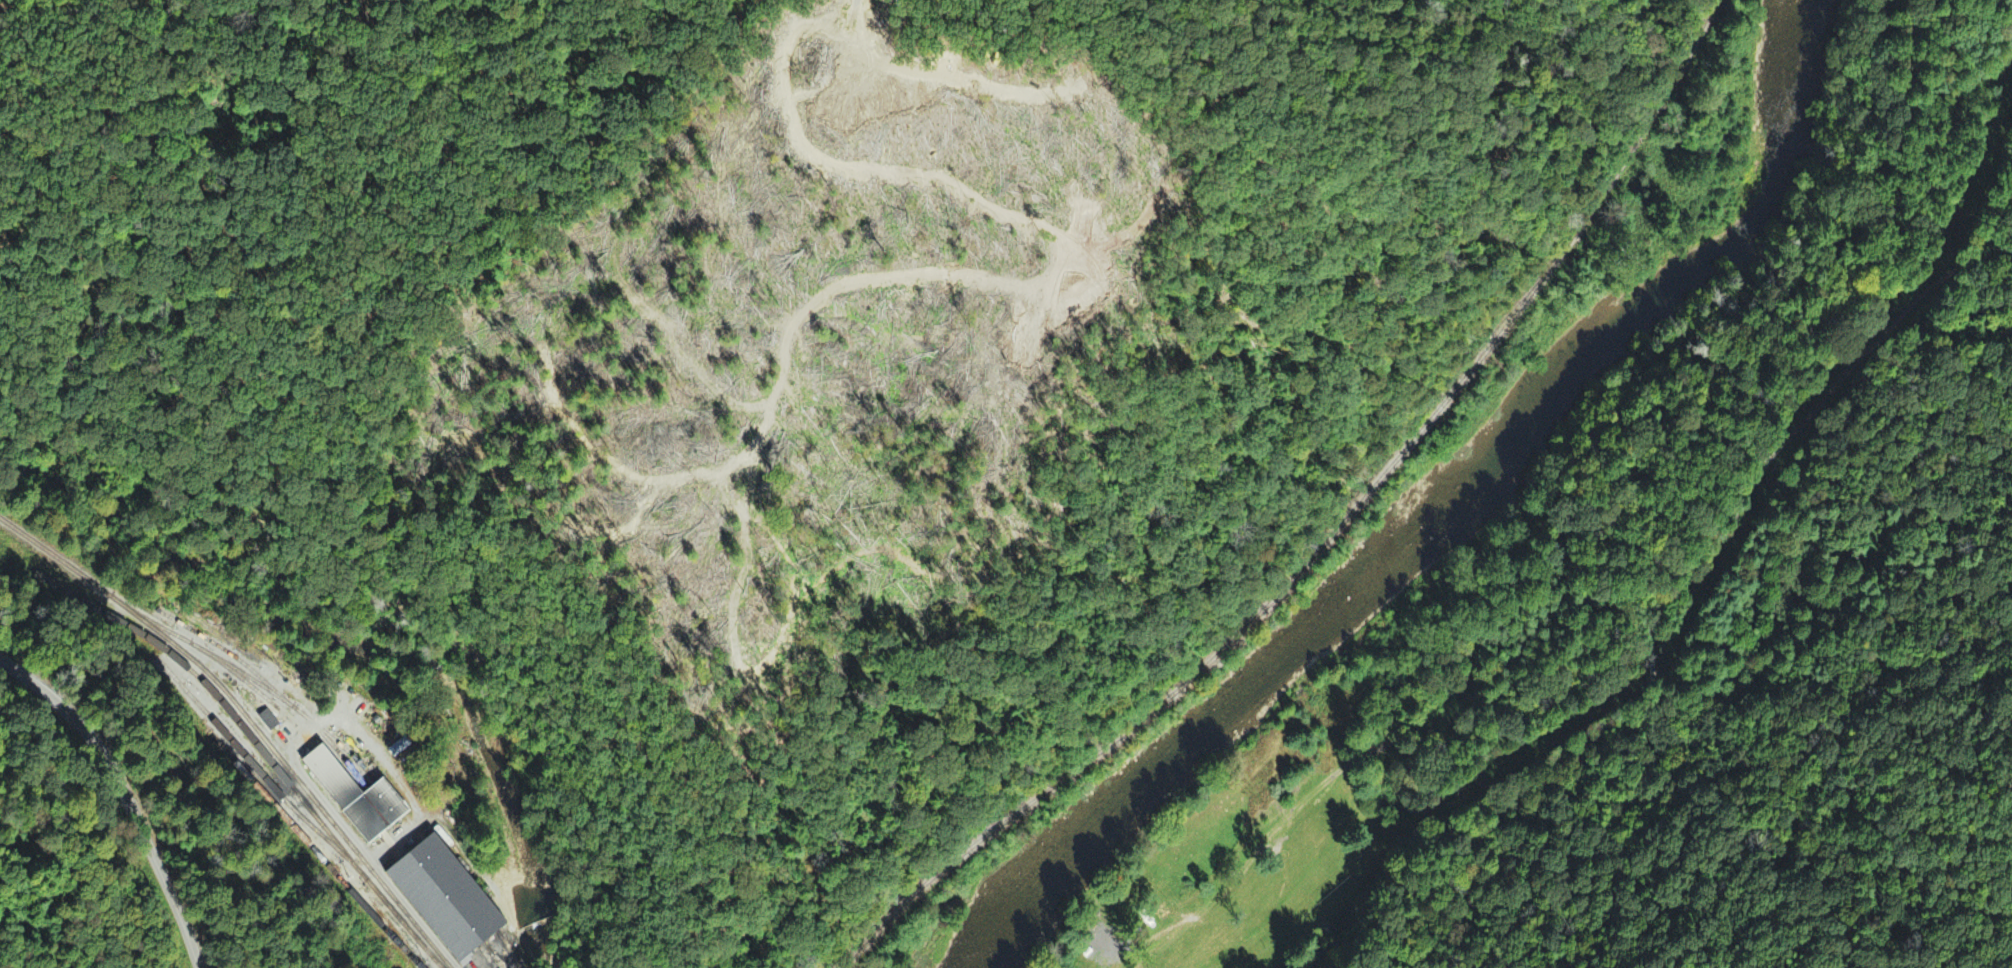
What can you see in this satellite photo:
railway: (1626, 91)
river: (1439, 514)
railway: (93, 600)
railway: (1268, 618)
railway: (212, 640)
railway: (248, 723)
railway: (319, 728)
railway: (265, 749)
road: (1592, 756)
railway: (255, 762)
building: (354, 793)
road: (1318, 795)
road: (117, 805)
railway: (305, 823)
railway: (319, 850)
road: (1481, 862)
railway: (436, 881)
building: (446, 897)
park: (448, 912)
railway: (509, 955)

